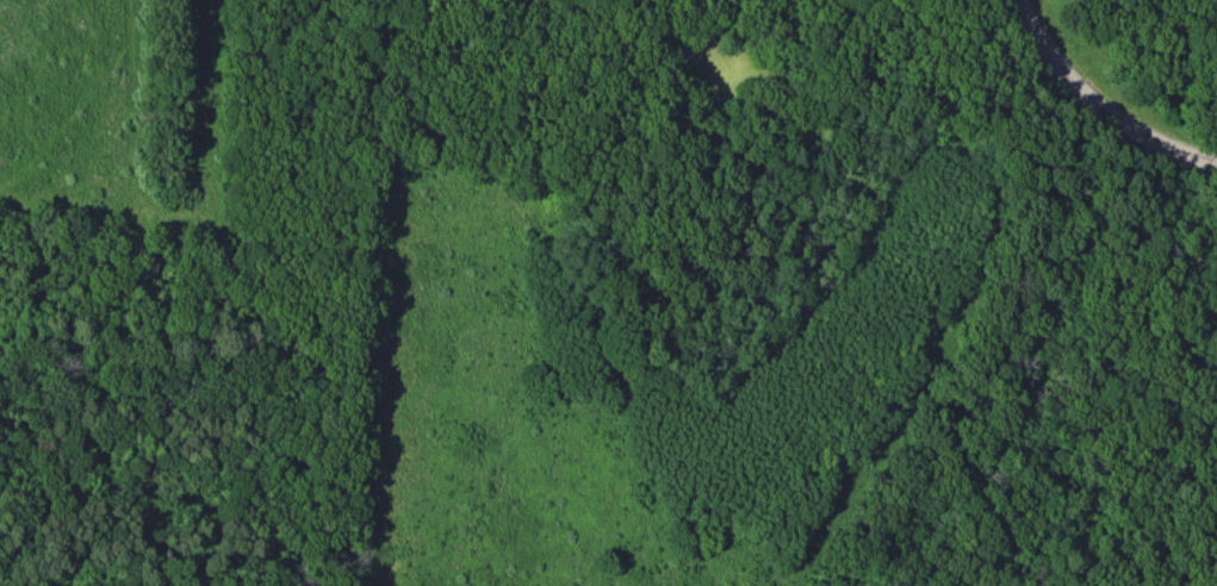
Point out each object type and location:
road: (1178, 27)
road: (1103, 102)
road: (317, 222)
park: (608, 293)

